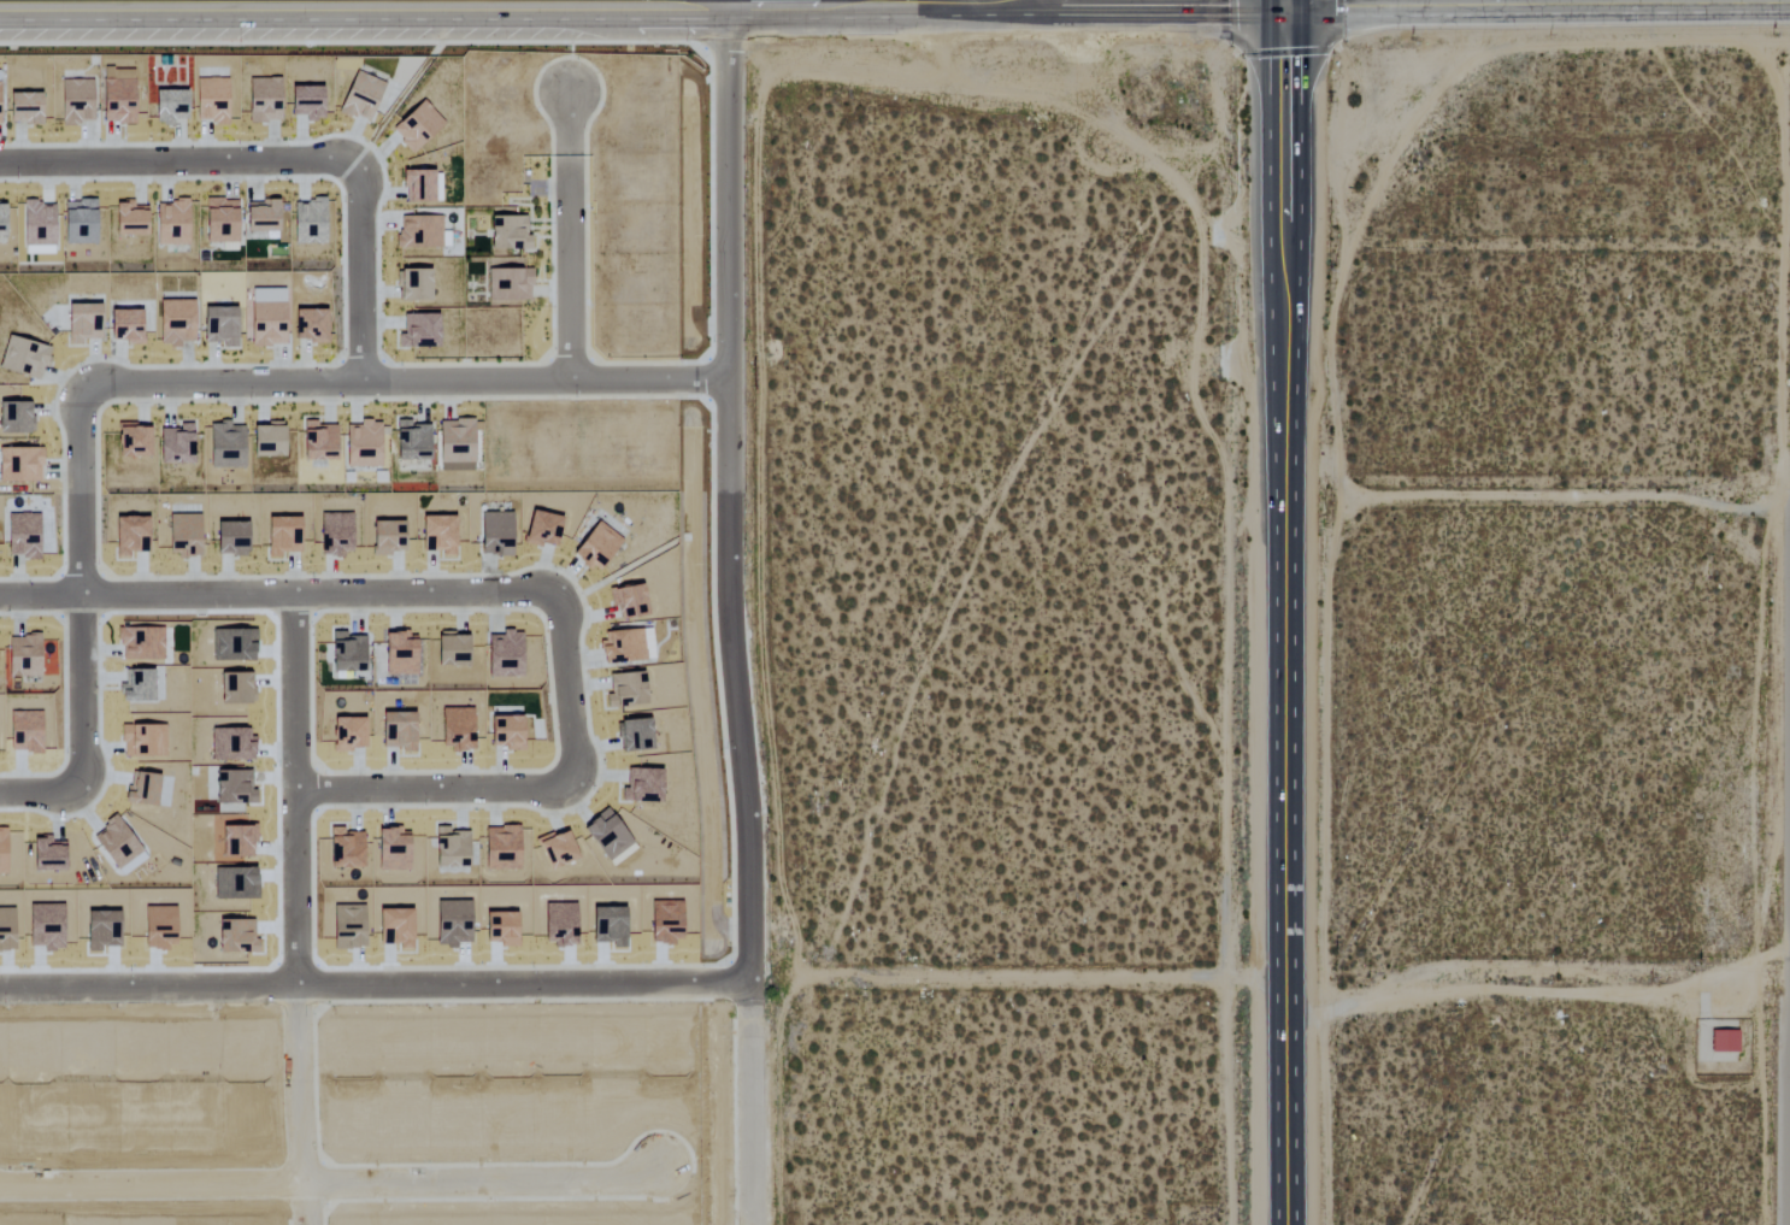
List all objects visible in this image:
road: (1500, 0)
road: (1289, 1)
road: (1435, 1)
traffic signals: (1289, 4)
road: (644, 7)
building: (267, 90)
building: (75, 101)
building: (116, 101)
building: (305, 102)
building: (167, 106)
building: (23, 108)
building: (213, 108)
building: (255, 116)
building: (414, 126)
road: (1286, 131)
road: (287, 161)
building: (417, 185)
building: (260, 217)
building: (310, 218)
building: (1, 219)
building: (128, 219)
building: (219, 220)
building: (77, 223)
building: (171, 223)
building: (37, 228)
building: (418, 232)
building: (507, 235)
road: (570, 237)
building: (510, 283)
building: (412, 285)
building: (81, 323)
building: (175, 323)
building: (265, 324)
building: (123, 326)
building: (218, 326)
building: (308, 326)
building: (417, 331)
building: (22, 359)
road: (170, 384)
building: (13, 419)
building: (266, 441)
building: (131, 442)
building: (317, 442)
building: (411, 442)
building: (361, 444)
building: (175, 446)
building: (224, 446)
building: (454, 446)
building: (19, 465)
road: (735, 494)
road: (1535, 503)
building: (541, 529)
building: (437, 531)
building: (183, 534)
building: (494, 534)
building: (335, 535)
building: (22, 536)
building: (282, 536)
building: (229, 538)
building: (385, 538)
building: (595, 547)
road: (378, 593)
building: (628, 602)
building: (625, 643)
building: (449, 649)
building: (507, 652)
building: (24, 654)
building: (346, 654)
building: (399, 654)
building: (631, 689)
building: (504, 731)
road: (1282, 742)
building: (646, 787)
road: (430, 788)
building: (557, 850)
road: (299, 909)
road: (1043, 978)
road: (377, 982)
road: (1535, 982)
road: (754, 1102)
road: (331, 1185)

